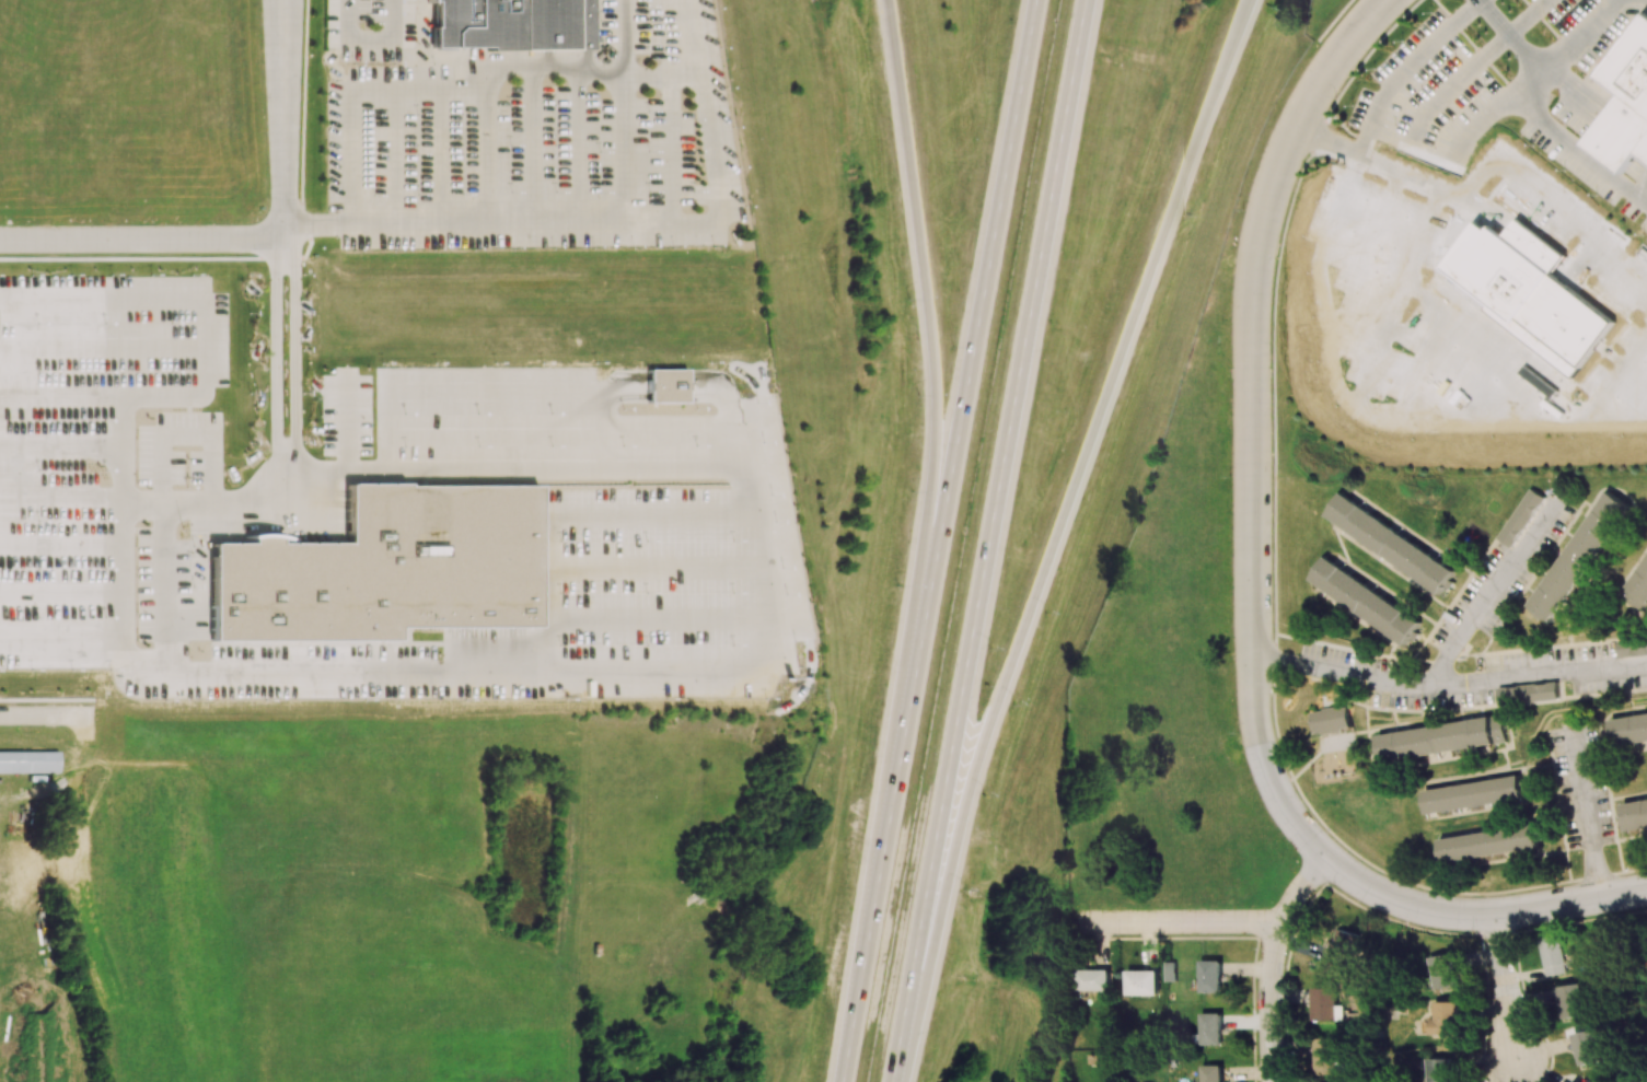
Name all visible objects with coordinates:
road: (1644, 2)
road: (1334, 20)
road: (1545, 22)
building: (511, 24)
road: (1515, 35)
road: (626, 36)
road: (370, 39)
road: (425, 42)
road: (460, 82)
road: (1577, 92)
building: (1625, 103)
parking lot: (1499, 104)
road: (1533, 110)
road: (283, 119)
road: (629, 148)
road: (482, 149)
road: (1424, 178)
road: (612, 223)
road: (141, 240)
road: (205, 312)
road: (102, 345)
road: (286, 369)
building: (665, 385)
road: (666, 385)
road: (477, 387)
road: (66, 395)
road: (733, 414)
road: (933, 435)
road: (63, 496)
road: (129, 498)
building: (1521, 516)
road: (1056, 535)
road: (937, 540)
road: (988, 540)
building: (1390, 542)
road: (61, 543)
building: (1580, 555)
building: (386, 568)
road: (1275, 569)
road: (1250, 591)
building: (1638, 592)
road: (60, 593)
road: (1496, 595)
building: (1364, 600)
road: (121, 628)
building: (1632, 645)
road: (141, 659)
road: (717, 671)
road: (1447, 687)
building: (1528, 693)
road: (46, 714)
building: (1331, 720)
building: (1499, 728)
building: (1629, 731)
building: (1435, 738)
building: (28, 761)
building: (1473, 793)
road: (1585, 813)
building: (1635, 813)
building: (1488, 842)
road: (1180, 923)
building: (1338, 946)
building: (1554, 955)
road: (1271, 962)
building: (1443, 970)
building: (1210, 976)
building: (1092, 979)
building: (1141, 981)
road: (1505, 992)
building: (1573, 1001)
building: (1326, 1004)
building: (1445, 1017)
building: (1210, 1027)
building: (1587, 1046)
building: (1439, 1069)
building: (1210, 1073)
building: (1569, 1081)

